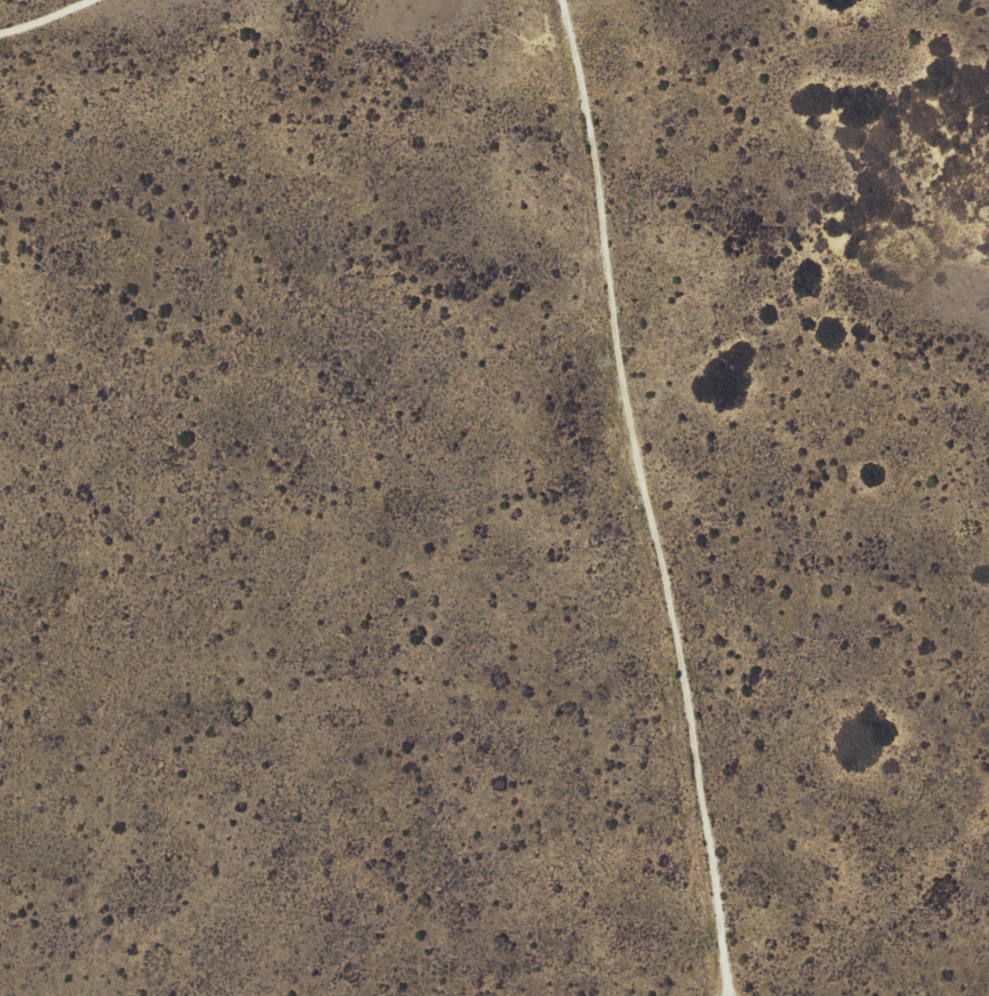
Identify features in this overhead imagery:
road: (45, 18)

